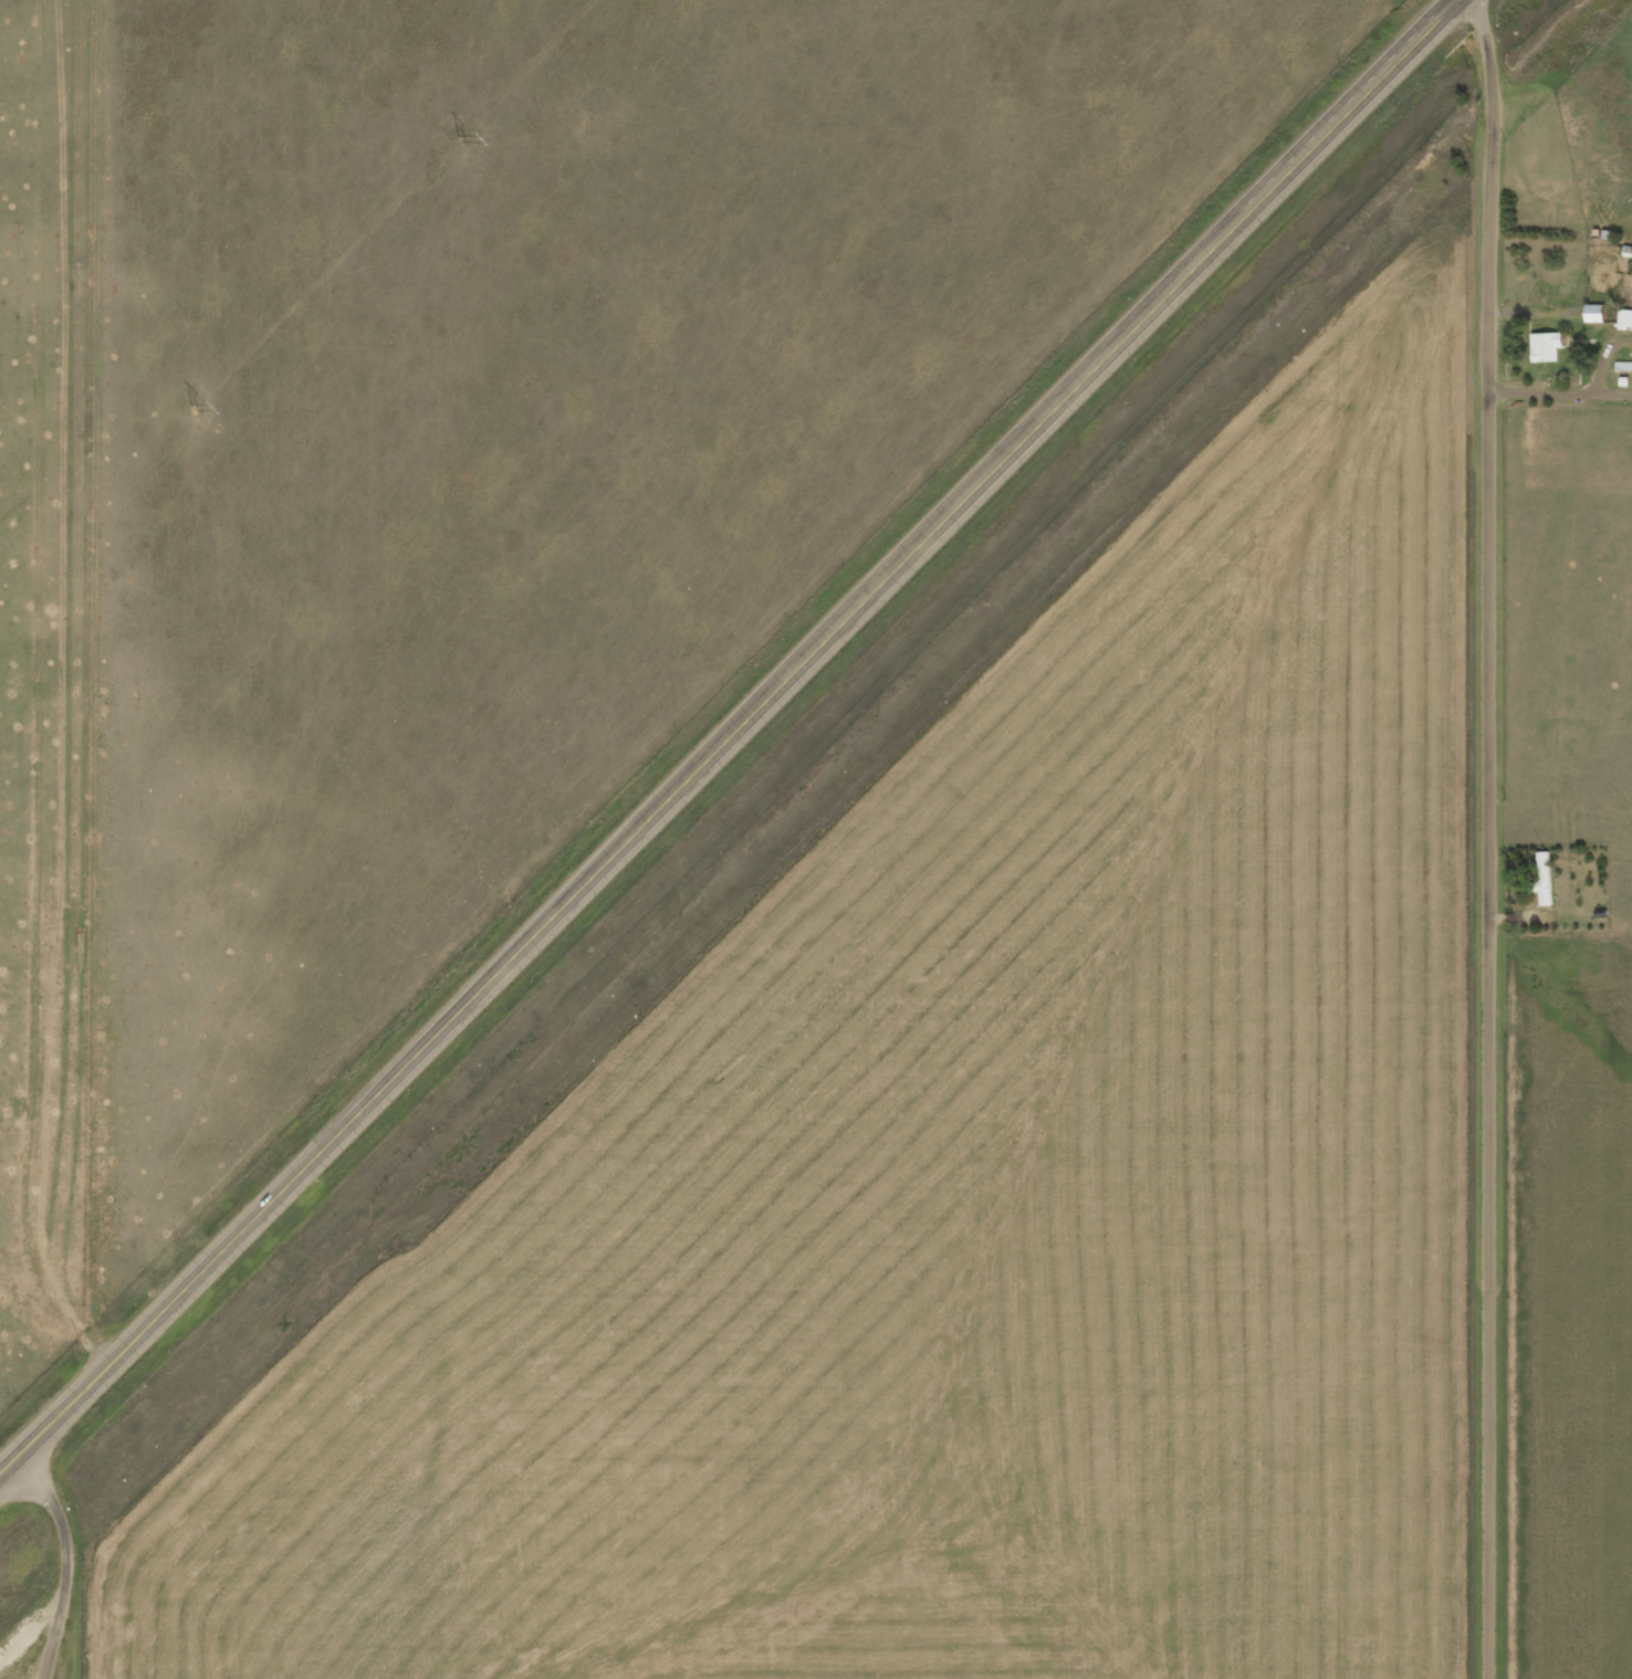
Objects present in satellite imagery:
power tower: (459, 138)
building: (1591, 313)
building: (1624, 317)
building: (1544, 346)
power tower: (192, 408)
road: (729, 736)
road: (1494, 839)
building: (1547, 878)

